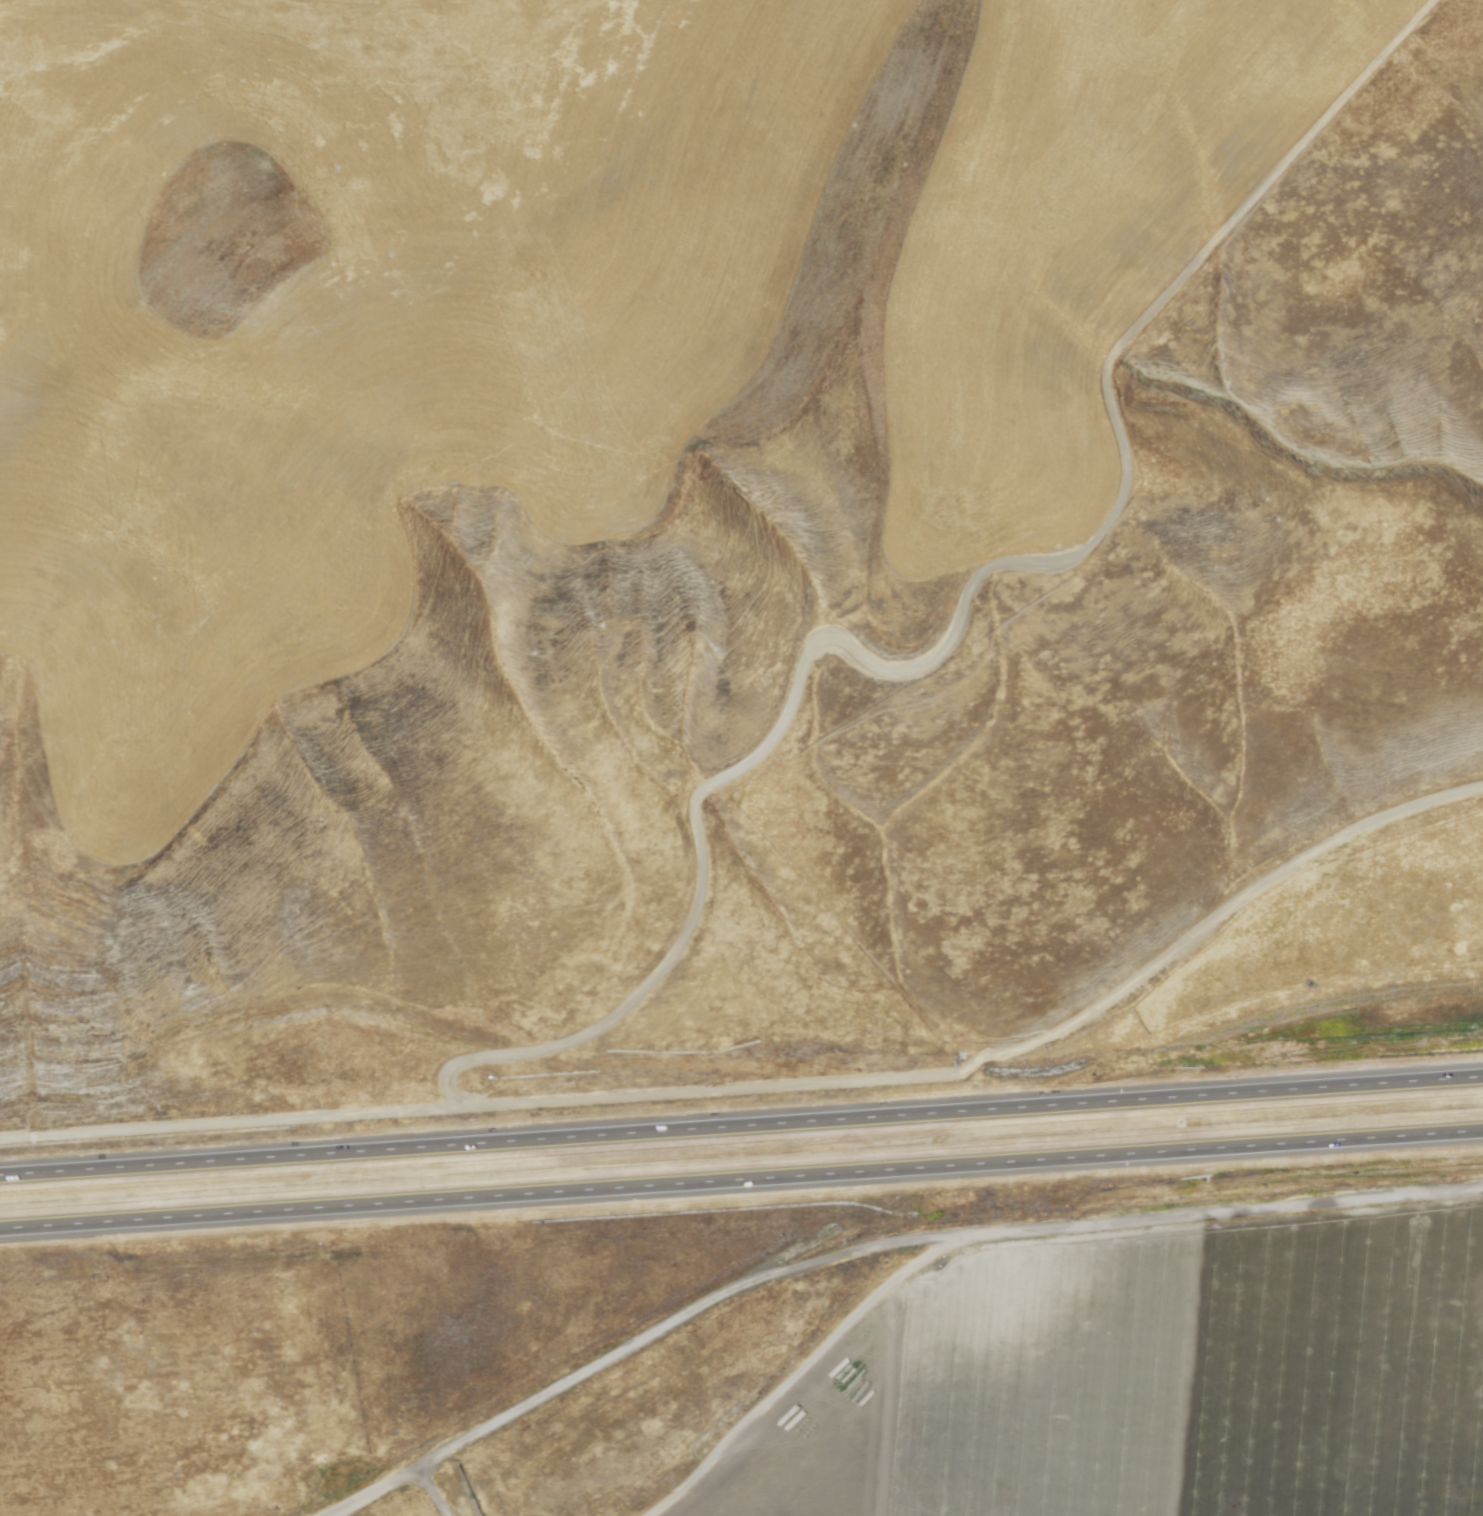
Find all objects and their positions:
road: (789, 699)
road: (1031, 1040)
road: (741, 1124)
road: (741, 1181)
road: (877, 1240)
crop: (1154, 1379)
road: (433, 1492)

